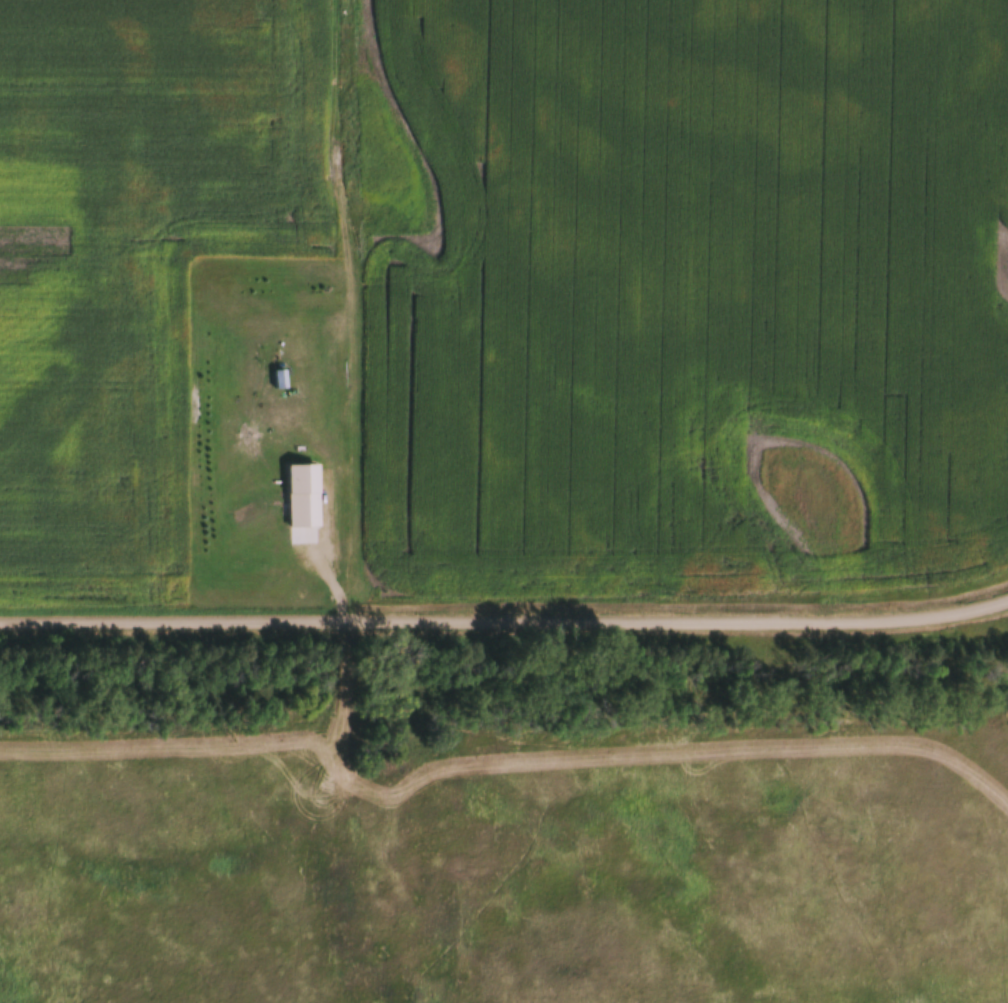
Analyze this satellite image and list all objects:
road: (504, 623)

